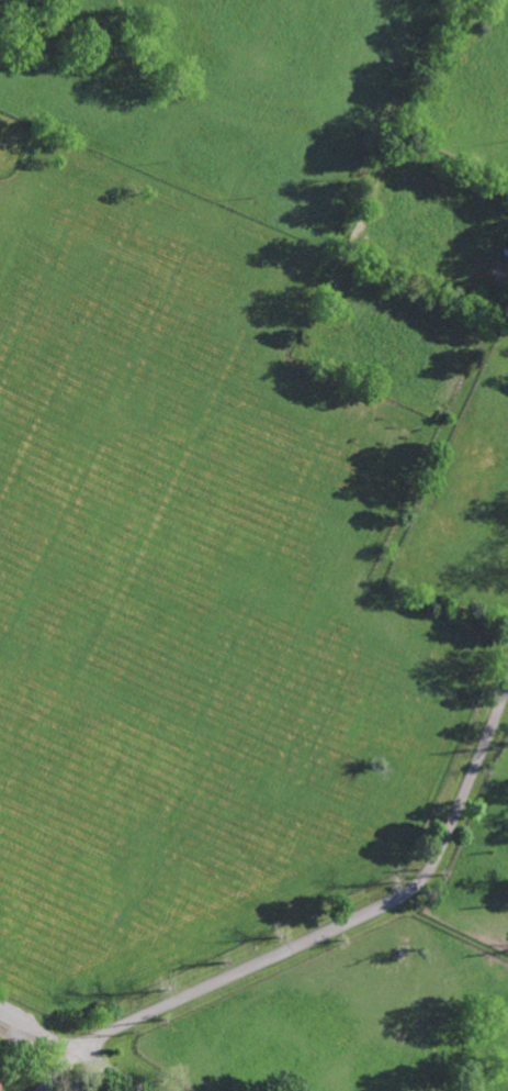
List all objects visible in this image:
road: (341, 923)
road: (36, 1029)
road: (57, 1068)
road: (110, 1069)
park: (35, 1073)
building: (0, 1078)

